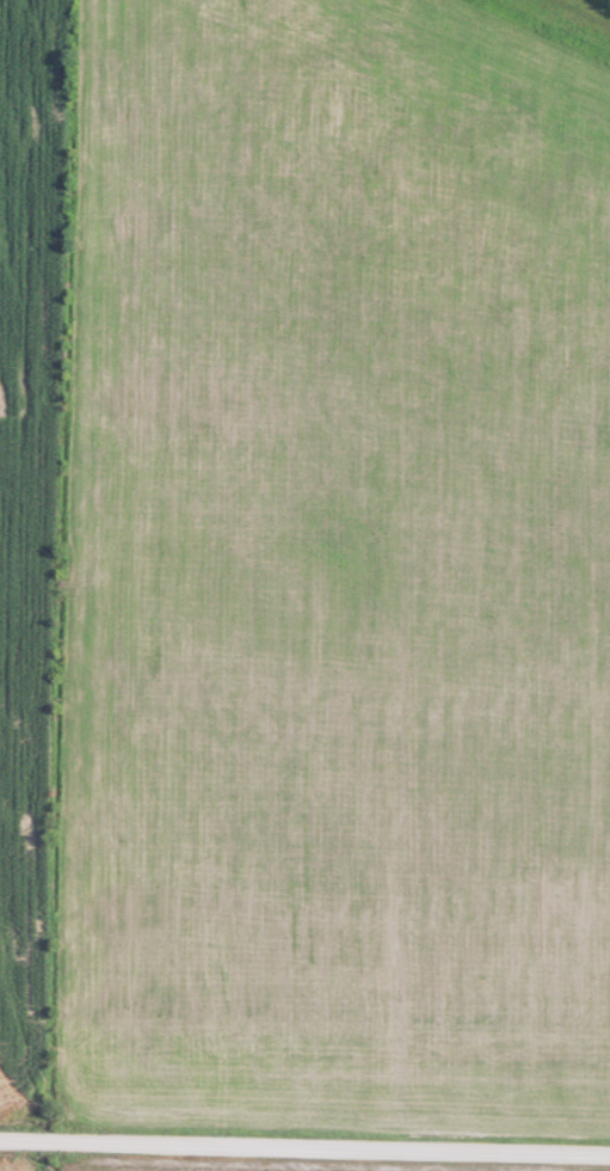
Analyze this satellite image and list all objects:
road: (304, 1148)

